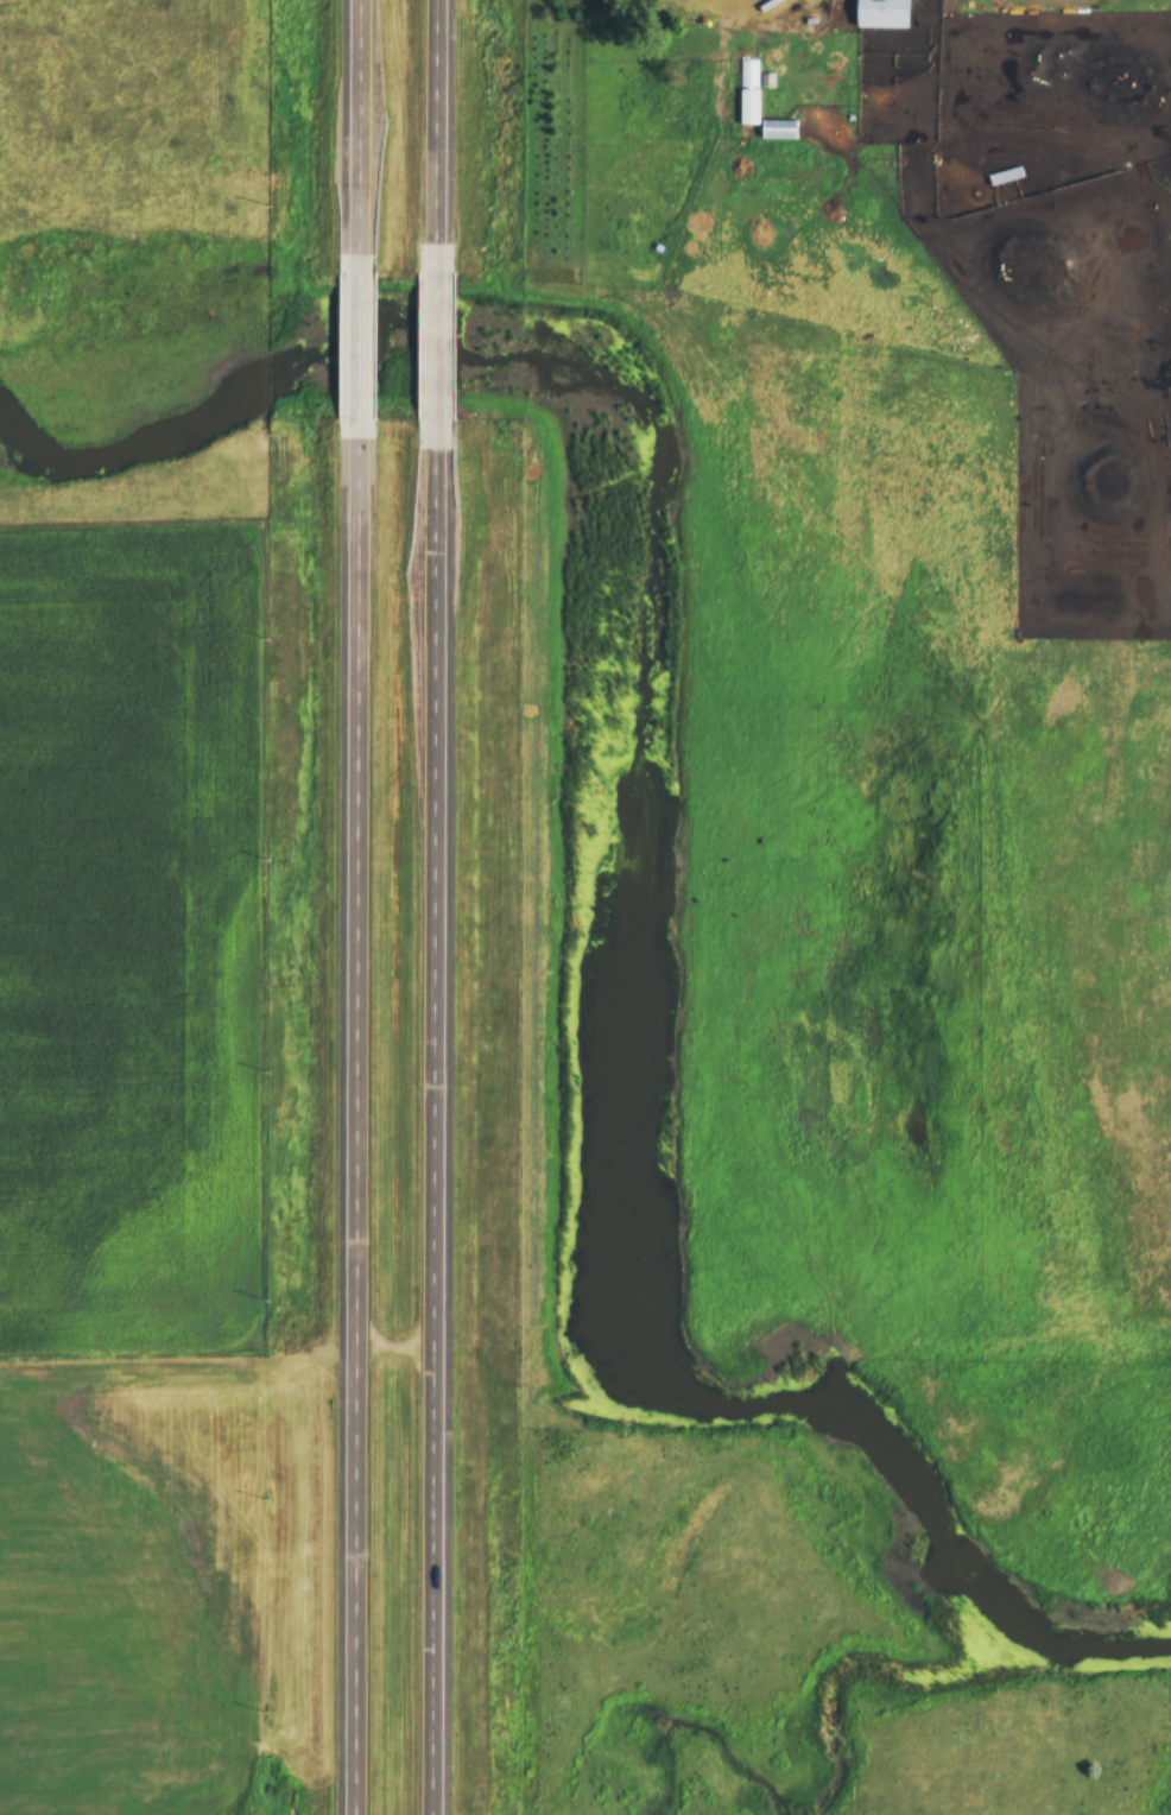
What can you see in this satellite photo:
road: (739, 4)
building: (885, 12)
building: (749, 91)
road: (356, 124)
road: (439, 126)
building: (781, 128)
building: (1006, 175)
road: (354, 341)
road: (437, 346)
river: (656, 865)
road: (360, 1124)
road: (439, 1127)
road: (400, 1346)

